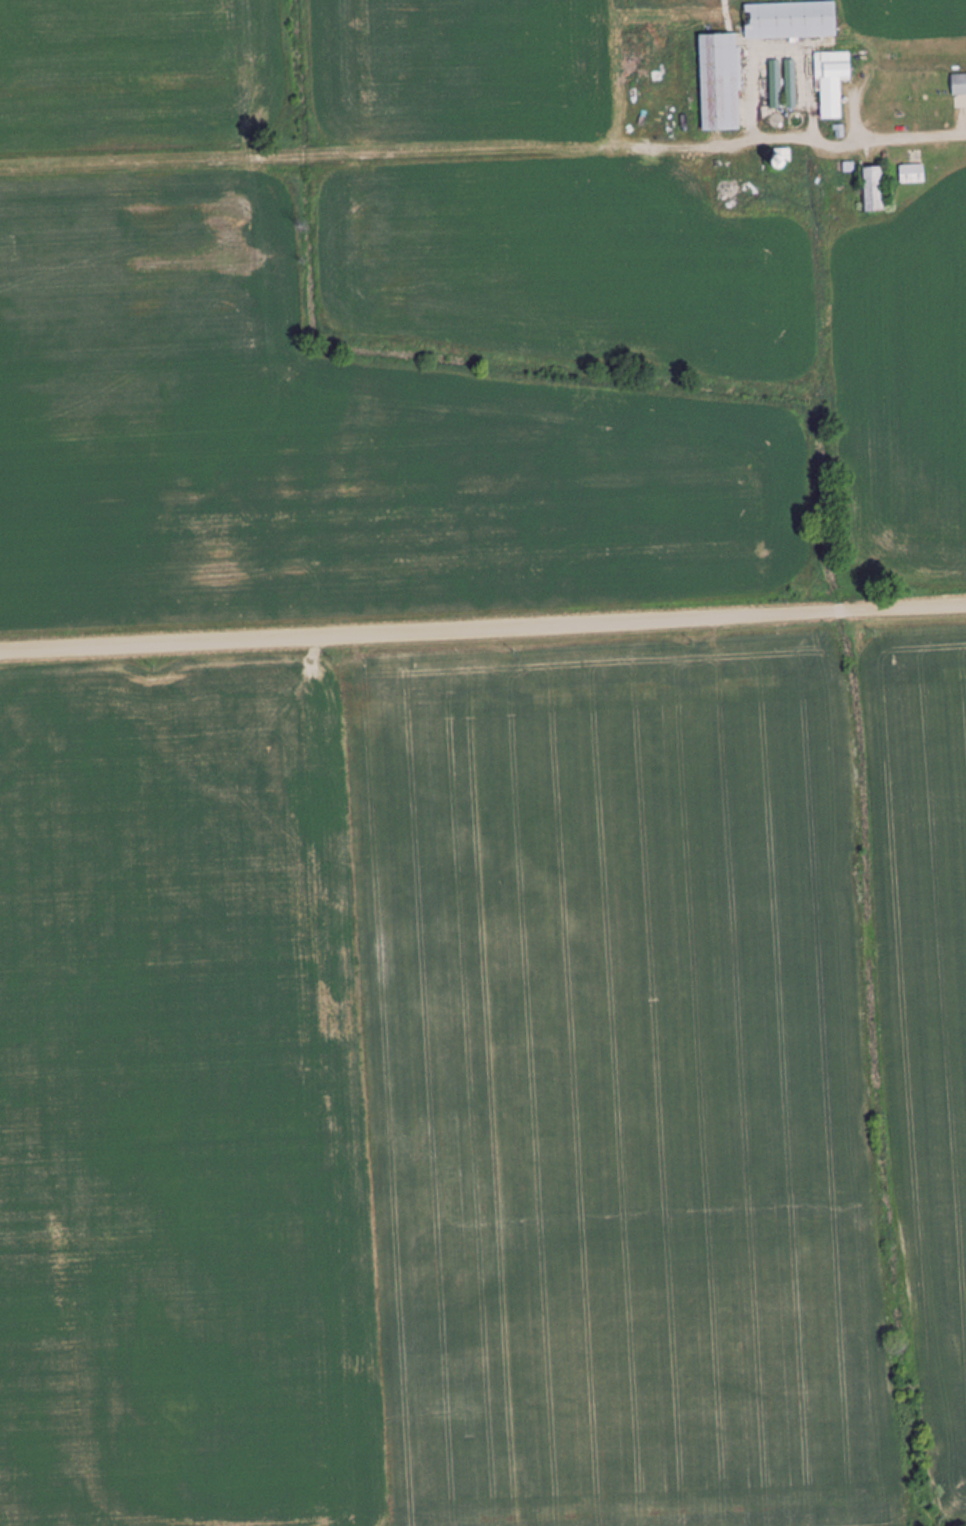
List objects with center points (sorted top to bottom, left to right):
crop: (914, 6)
building: (790, 21)
crop: (471, 67)
building: (720, 83)
building: (831, 83)
building: (958, 84)
building: (911, 174)
building: (873, 190)
road: (482, 629)
crop: (486, 1086)

